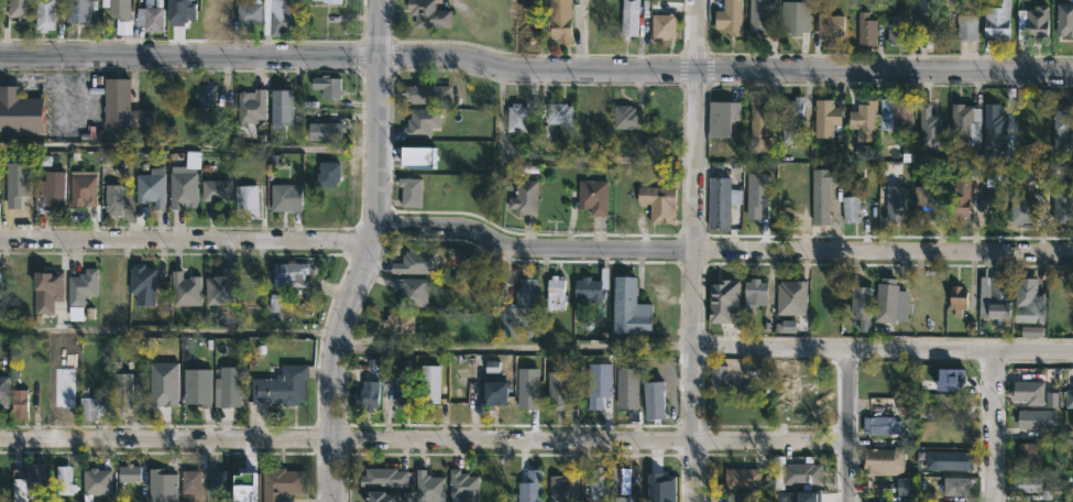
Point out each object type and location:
building: (330, 1)
building: (17, 8)
building: (206, 10)
building: (78, 11)
building: (182, 11)
building: (243, 12)
building: (118, 13)
building: (43, 14)
building: (428, 14)
building: (277, 15)
building: (522, 15)
building: (757, 15)
building: (150, 17)
building: (795, 17)
building: (628, 18)
building: (730, 18)
building: (930, 18)
building: (1064, 18)
building: (559, 21)
building: (997, 21)
building: (1038, 23)
building: (830, 25)
building: (663, 26)
road: (381, 28)
building: (966, 28)
building: (866, 29)
building: (896, 29)
road: (189, 55)
road: (726, 69)
building: (326, 87)
building: (205, 94)
building: (427, 95)
building: (121, 106)
building: (250, 106)
building: (281, 108)
building: (20, 111)
building: (896, 112)
building: (559, 113)
building: (792, 114)
building: (516, 117)
building: (626, 117)
building: (723, 117)
building: (825, 117)
building: (864, 119)
building: (1061, 121)
building: (418, 123)
building: (965, 123)
building: (758, 127)
building: (990, 128)
building: (927, 129)
building: (325, 130)
road: (189, 148)
building: (419, 156)
building: (327, 174)
building: (994, 177)
building: (13, 182)
building: (0, 184)
building: (151, 187)
building: (48, 188)
building: (81, 189)
building: (182, 189)
building: (215, 189)
building: (409, 192)
building: (757, 194)
building: (822, 194)
building: (593, 196)
building: (788, 196)
building: (285, 197)
building: (524, 197)
building: (960, 197)
building: (111, 198)
building: (245, 200)
building: (718, 201)
building: (922, 201)
building: (658, 203)
building: (895, 203)
building: (1062, 204)
building: (19, 208)
building: (852, 209)
building: (1022, 209)
road: (187, 239)
road: (694, 250)
road: (722, 250)
building: (409, 263)
building: (24, 272)
building: (288, 274)
road: (359, 279)
building: (141, 284)
building: (80, 286)
building: (591, 286)
building: (219, 288)
building: (244, 288)
building: (184, 290)
building: (46, 291)
building: (410, 291)
building: (556, 293)
building: (754, 294)
building: (791, 297)
building: (723, 299)
building: (957, 299)
building: (861, 301)
building: (995, 301)
building: (891, 302)
building: (1029, 302)
building: (628, 306)
building: (519, 308)
building: (397, 324)
building: (787, 326)
road: (171, 330)
building: (1032, 331)
road: (883, 350)
building: (955, 376)
building: (720, 378)
building: (162, 382)
building: (598, 383)
building: (431, 385)
building: (281, 386)
building: (526, 386)
building: (232, 388)
building: (626, 388)
building: (199, 389)
building: (555, 389)
building: (121, 390)
building: (3, 391)
building: (58, 391)
building: (493, 393)
building: (1028, 393)
building: (369, 395)
building: (1051, 399)
building: (1069, 399)
building: (654, 400)
building: (18, 403)
building: (954, 404)
building: (86, 408)
building: (1037, 421)
road: (851, 425)
building: (882, 425)
road: (996, 426)
building: (955, 433)
road: (347, 440)
road: (773, 440)
building: (1028, 454)
building: (952, 460)
building: (883, 461)
building: (802, 473)
building: (129, 474)
building: (742, 478)
building: (62, 479)
building: (386, 479)
building: (32, 480)
building: (622, 480)
building: (95, 481)
building: (190, 481)
building: (217, 482)
building: (281, 483)
building: (430, 483)
building: (598, 483)
building: (1026, 483)
building: (906, 485)
building: (956, 485)
building: (161, 487)
building: (247, 487)
building: (462, 488)
building: (565, 488)
building: (529, 489)
building: (655, 490)
building: (799, 496)
building: (383, 498)
building: (735, 498)
building: (623, 499)

